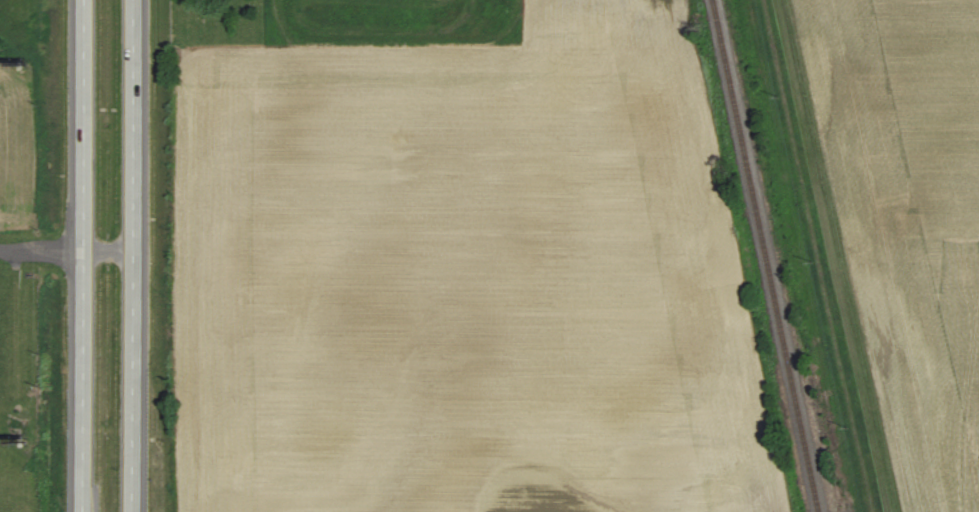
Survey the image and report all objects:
road: (66, 249)
road: (83, 255)
road: (133, 256)
railway: (766, 256)

